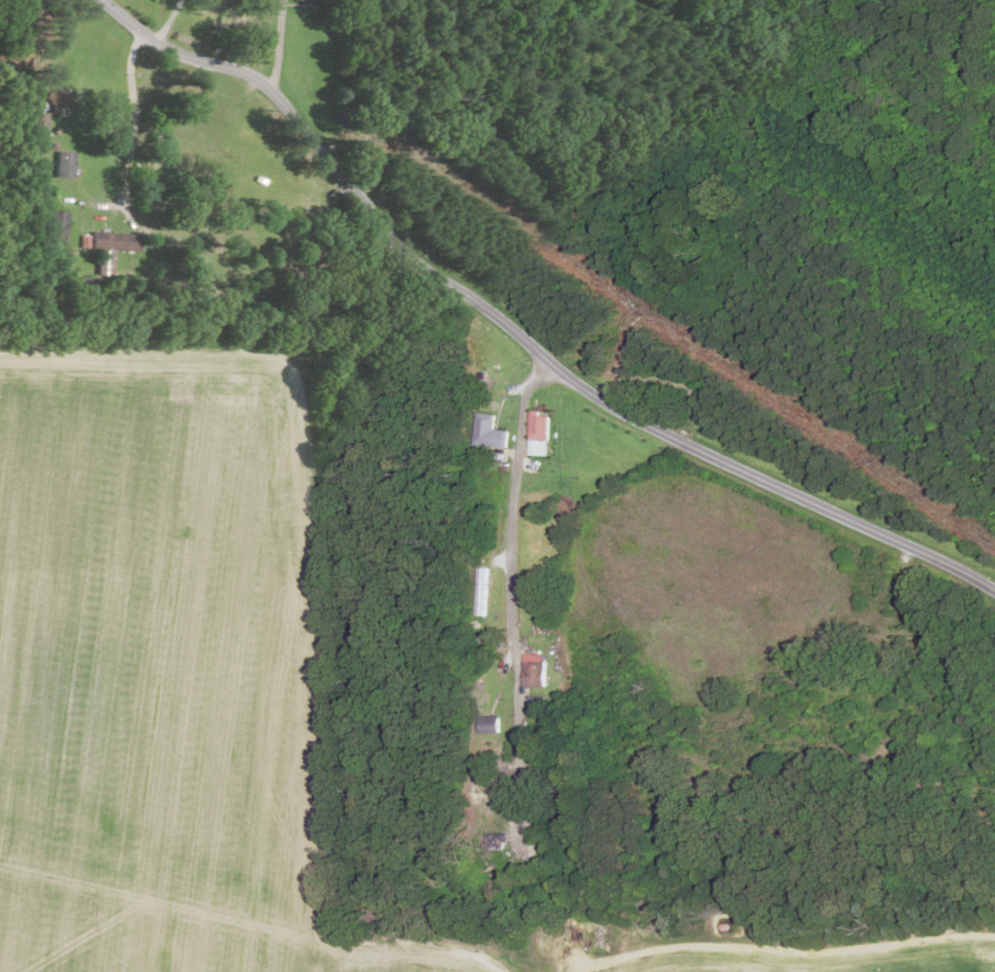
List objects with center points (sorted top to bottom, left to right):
building: (305, 1)
road: (334, 47)
building: (54, 100)
building: (35, 123)
building: (61, 166)
building: (54, 227)
building: (108, 243)
road: (548, 314)
building: (488, 434)
building: (538, 435)
building: (482, 593)
building: (534, 671)
building: (536, 705)
building: (489, 726)

